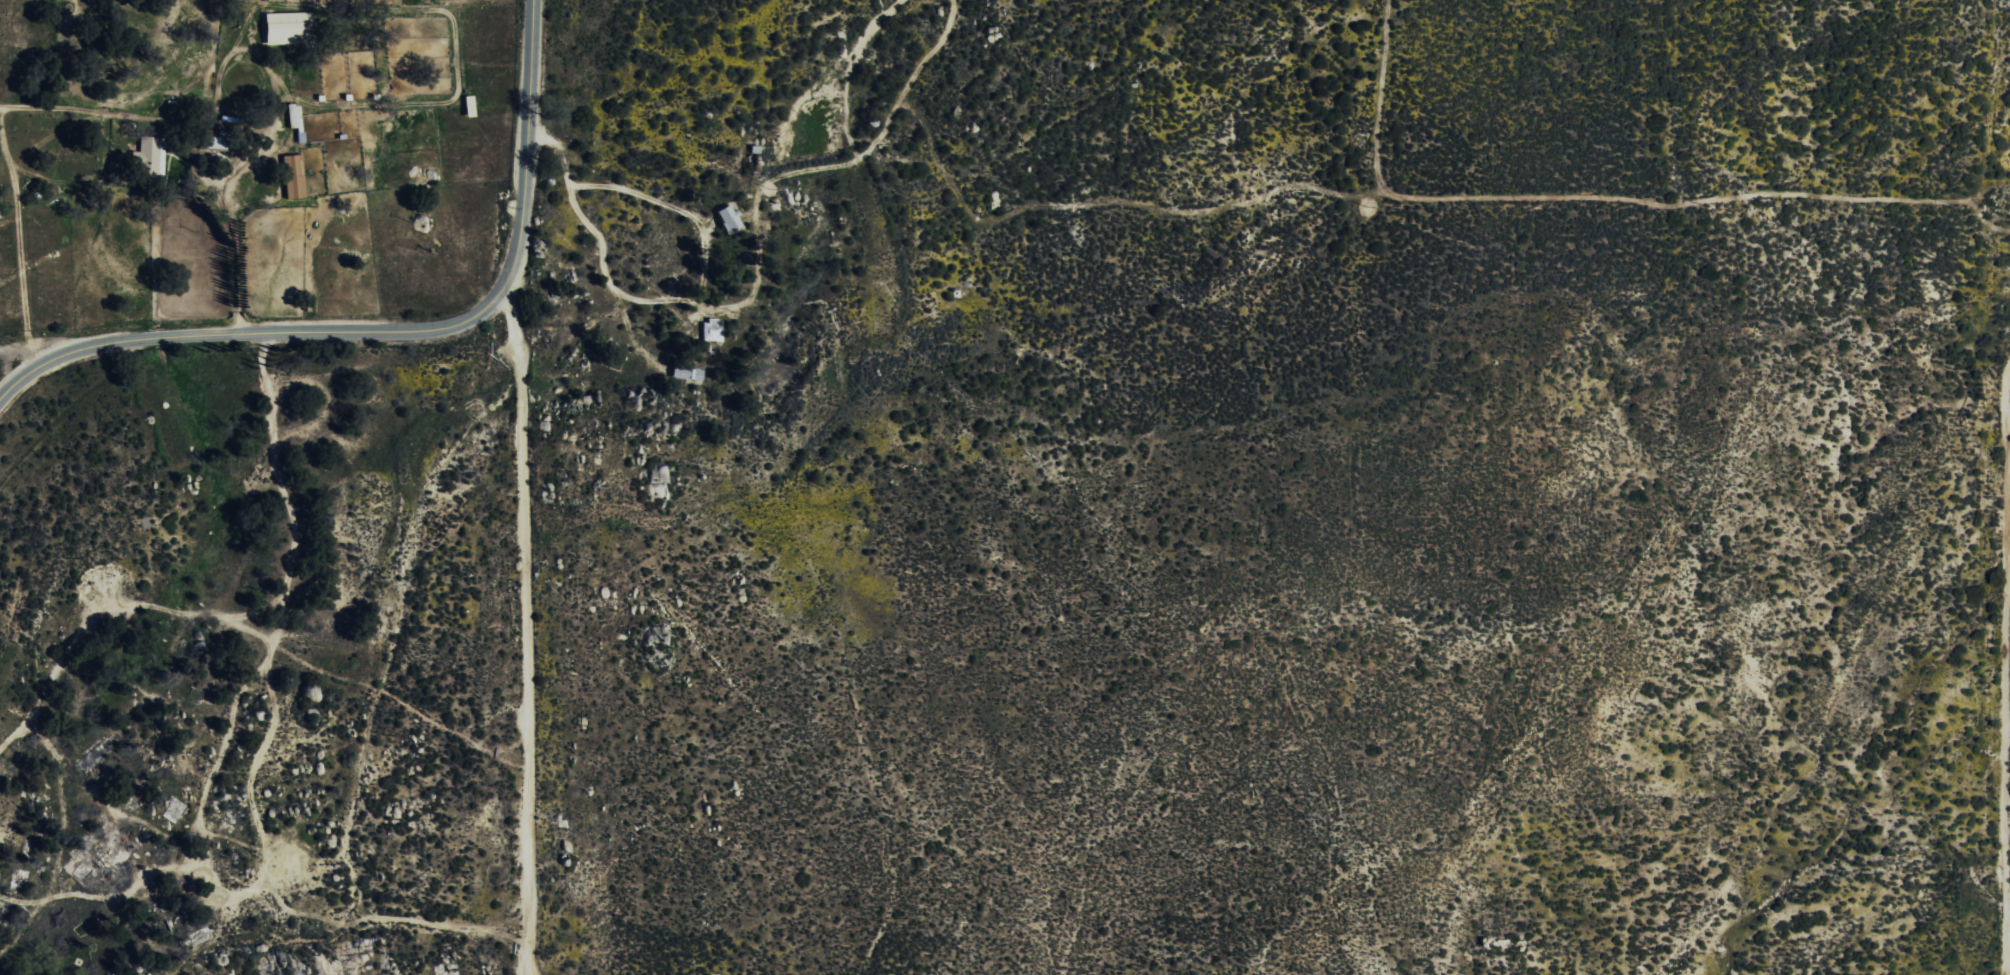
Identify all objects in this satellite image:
building: (286, 27)
building: (294, 120)
building: (147, 157)
building: (291, 177)
building: (728, 219)
building: (710, 331)
road: (397, 332)
building: (686, 374)

